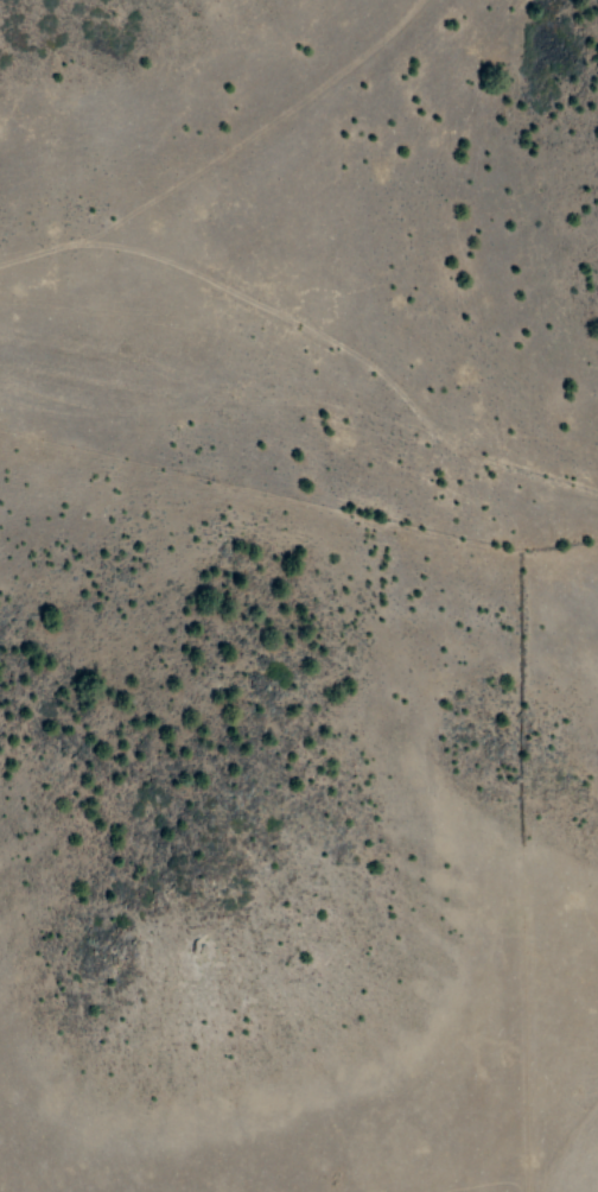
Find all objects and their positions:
road: (248, 128)
road: (310, 337)

